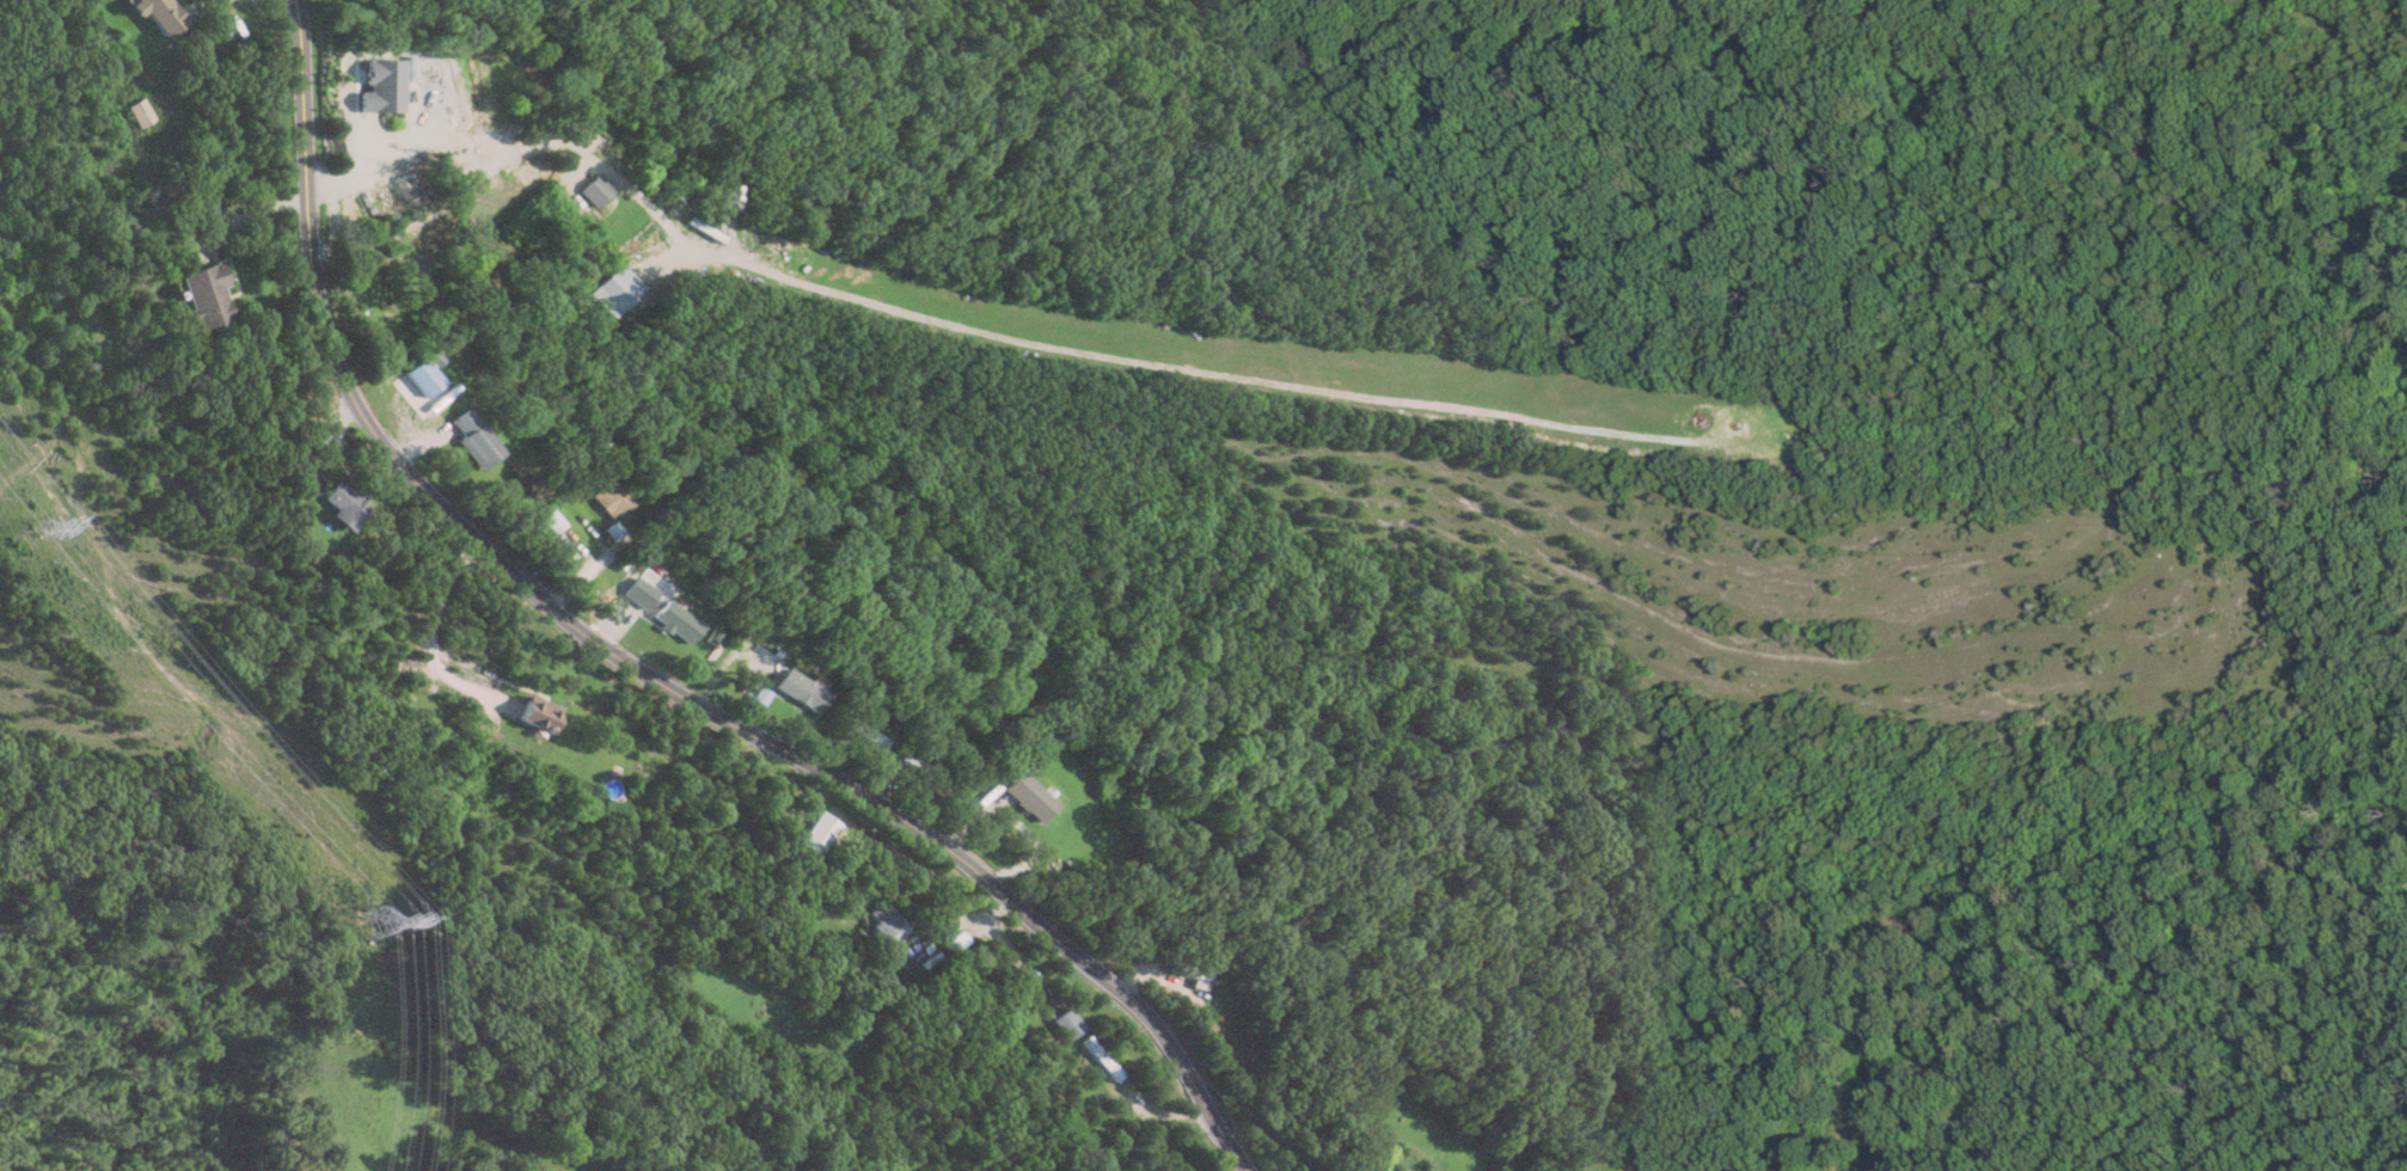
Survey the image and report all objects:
building: (155, 13)
building: (375, 85)
building: (137, 111)
road: (388, 151)
building: (525, 176)
building: (589, 190)
road: (246, 217)
building: (614, 290)
building: (203, 295)
building: (423, 376)
building: (473, 439)
building: (344, 507)
building: (551, 521)
power tower: (41, 527)
building: (638, 593)
building: (673, 621)
road: (641, 666)
building: (796, 689)
building: (537, 713)
building: (923, 768)
building: (1025, 797)
road: (1017, 822)
building: (815, 833)
power tower: (376, 920)
building: (881, 922)
building: (953, 943)
building: (1188, 971)
building: (1067, 1023)
building: (1385, 1169)

